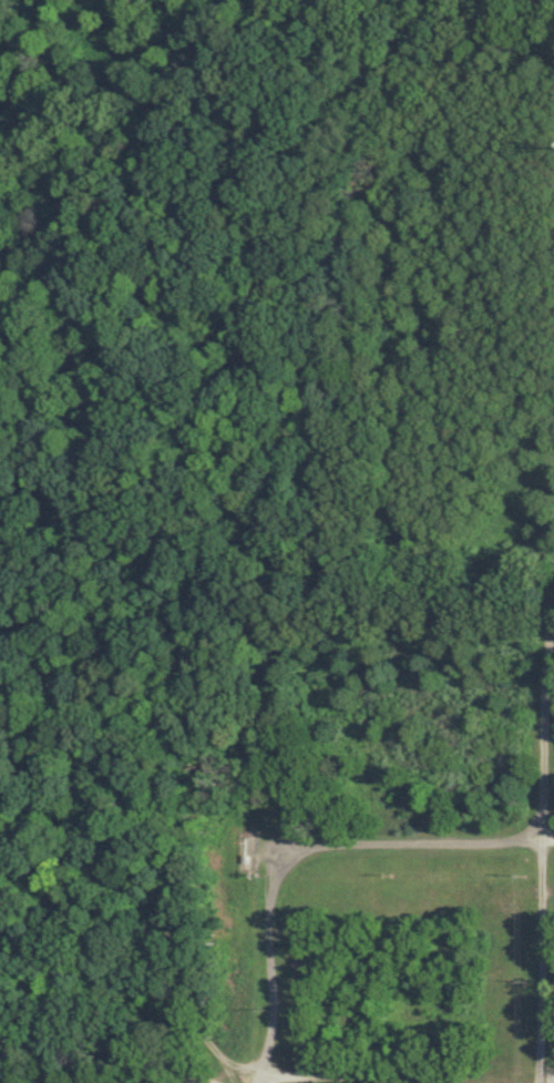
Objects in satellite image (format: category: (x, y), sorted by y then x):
road: (545, 844)
road: (310, 852)
road: (348, 1079)

